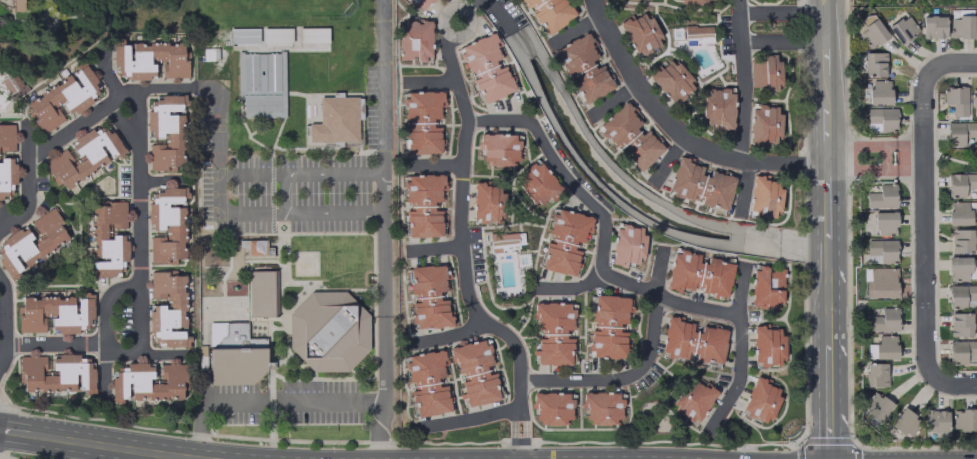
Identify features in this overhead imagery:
building: (695, 0)
building: (420, 3)
building: (17, 5)
road: (461, 8)
building: (549, 12)
building: (976, 20)
road: (784, 25)
building: (933, 26)
building: (960, 26)
building: (701, 28)
building: (902, 28)
building: (870, 30)
building: (640, 33)
building: (313, 34)
building: (276, 35)
building: (243, 36)
building: (414, 40)
building: (150, 60)
road: (954, 62)
building: (874, 63)
building: (486, 67)
building: (583, 68)
building: (765, 72)
road: (431, 75)
building: (672, 80)
building: (10, 82)
building: (261, 84)
building: (879, 91)
road: (933, 94)
building: (63, 98)
road: (613, 98)
building: (956, 99)
building: (973, 99)
building: (718, 107)
road: (746, 107)
road: (107, 108)
building: (882, 117)
building: (336, 119)
building: (422, 121)
road: (668, 122)
building: (764, 124)
road: (216, 126)
building: (166, 132)
building: (959, 132)
building: (6, 136)
building: (630, 136)
building: (498, 148)
building: (84, 155)
road: (862, 158)
road: (909, 158)
road: (436, 163)
building: (6, 177)
road: (29, 179)
road: (165, 181)
building: (538, 183)
building: (960, 183)
building: (700, 184)
road: (282, 195)
road: (219, 196)
building: (882, 196)
building: (764, 197)
road: (141, 198)
building: (487, 202)
building: (423, 204)
building: (958, 213)
road: (922, 221)
building: (884, 222)
road: (604, 223)
building: (167, 224)
road: (386, 229)
road: (828, 229)
building: (507, 236)
building: (107, 238)
building: (564, 240)
building: (961, 240)
building: (31, 243)
building: (627, 244)
building: (257, 246)
road: (466, 246)
road: (437, 249)
building: (882, 249)
road: (934, 255)
building: (958, 268)
building: (699, 273)
building: (881, 282)
road: (573, 285)
building: (765, 287)
building: (260, 293)
building: (962, 295)
building: (428, 297)
building: (168, 309)
building: (55, 313)
road: (7, 317)
building: (883, 320)
building: (960, 324)
building: (608, 326)
building: (327, 331)
road: (105, 333)
building: (553, 333)
road: (446, 338)
building: (692, 341)
road: (56, 342)
building: (767, 345)
road: (742, 346)
building: (882, 348)
building: (961, 350)
road: (147, 352)
building: (234, 354)
road: (642, 368)
building: (474, 371)
building: (56, 372)
building: (875, 374)
building: (147, 381)
building: (427, 382)
road: (953, 383)
building: (693, 400)
building: (760, 400)
road: (269, 402)
building: (875, 406)
building: (551, 407)
building: (602, 407)
road: (471, 418)
building: (963, 419)
building: (935, 420)
building: (905, 422)
road: (17, 431)
road: (120, 446)

